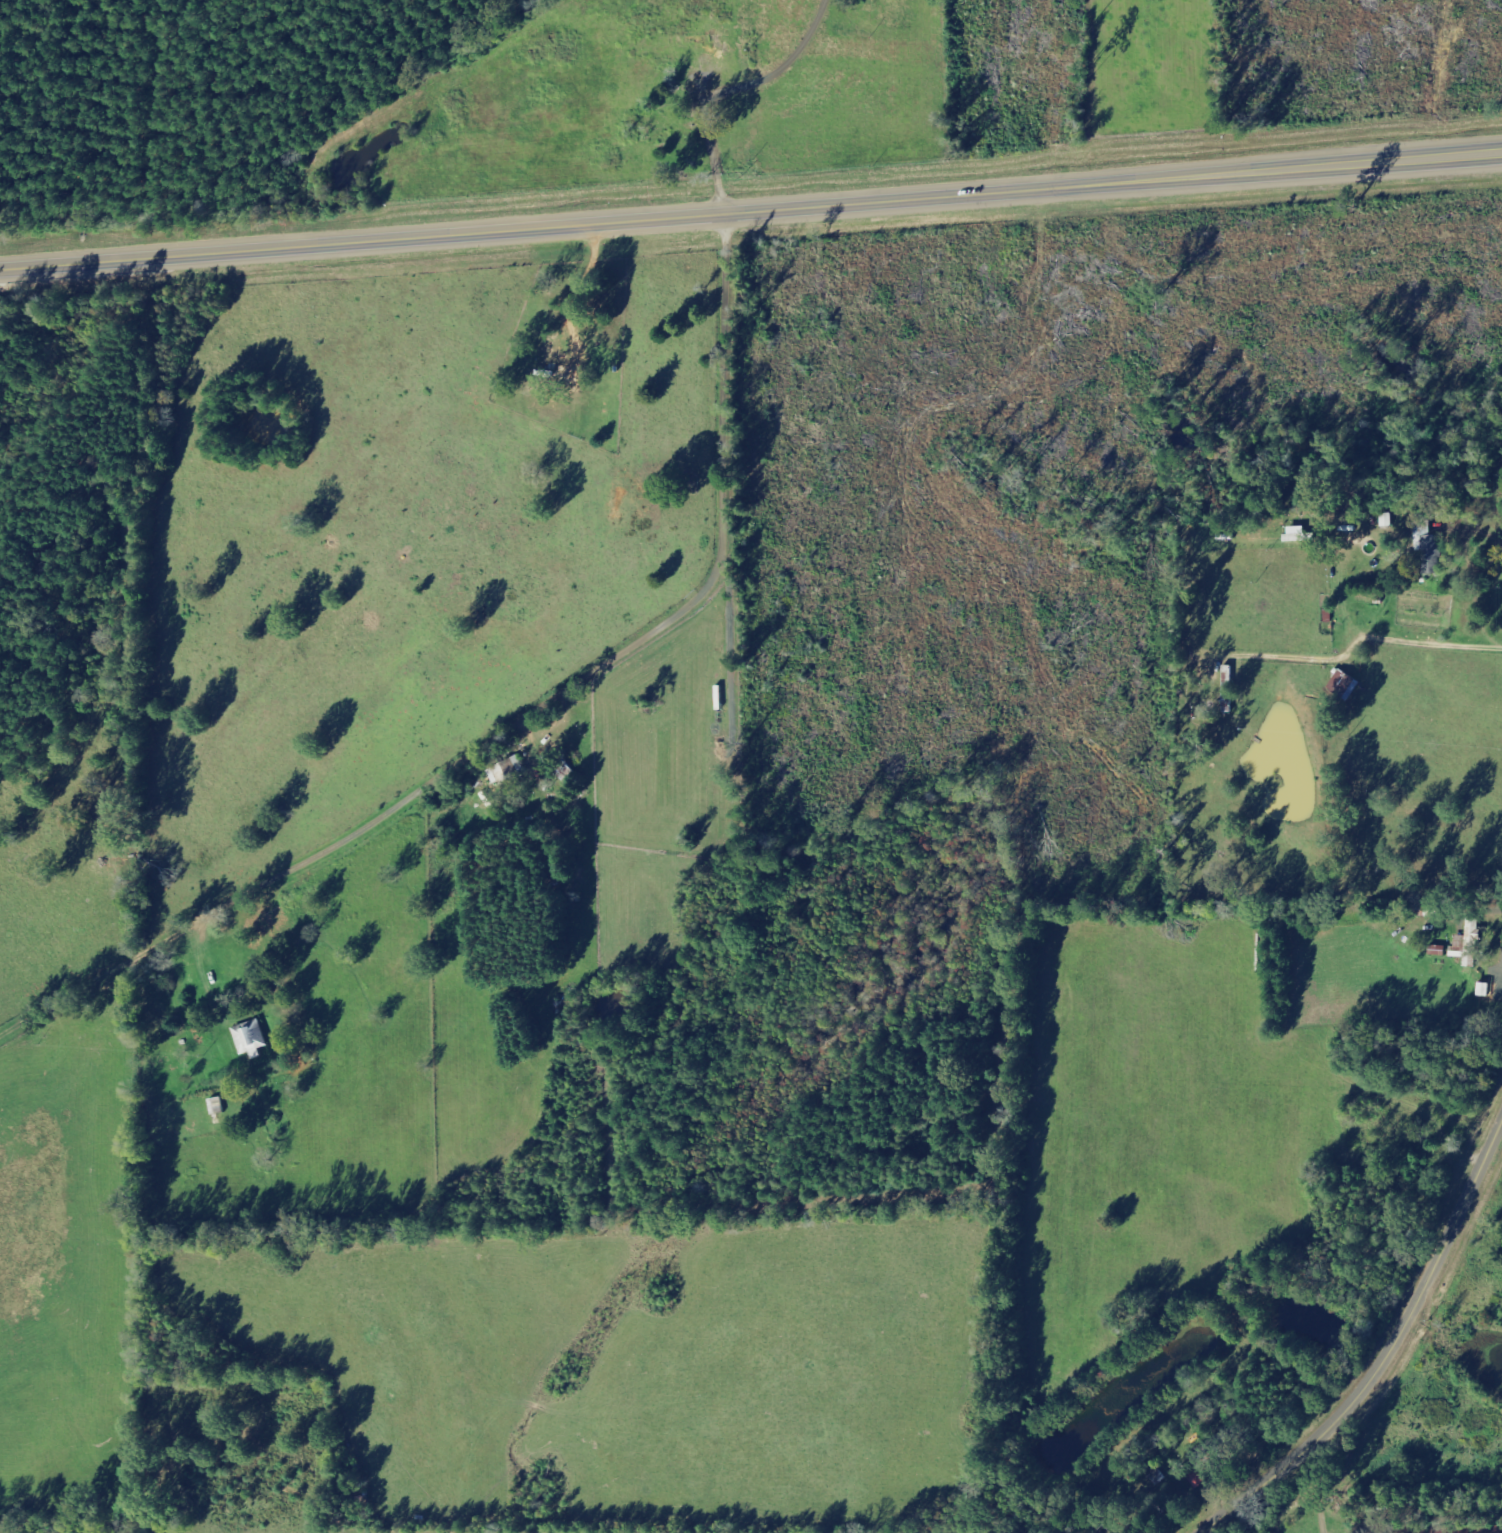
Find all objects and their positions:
road: (297, 42)
road: (751, 223)
building: (1431, 547)
road: (524, 740)
building: (511, 771)
building: (1471, 945)
building: (1441, 951)
building: (253, 1039)
road: (1389, 1350)

